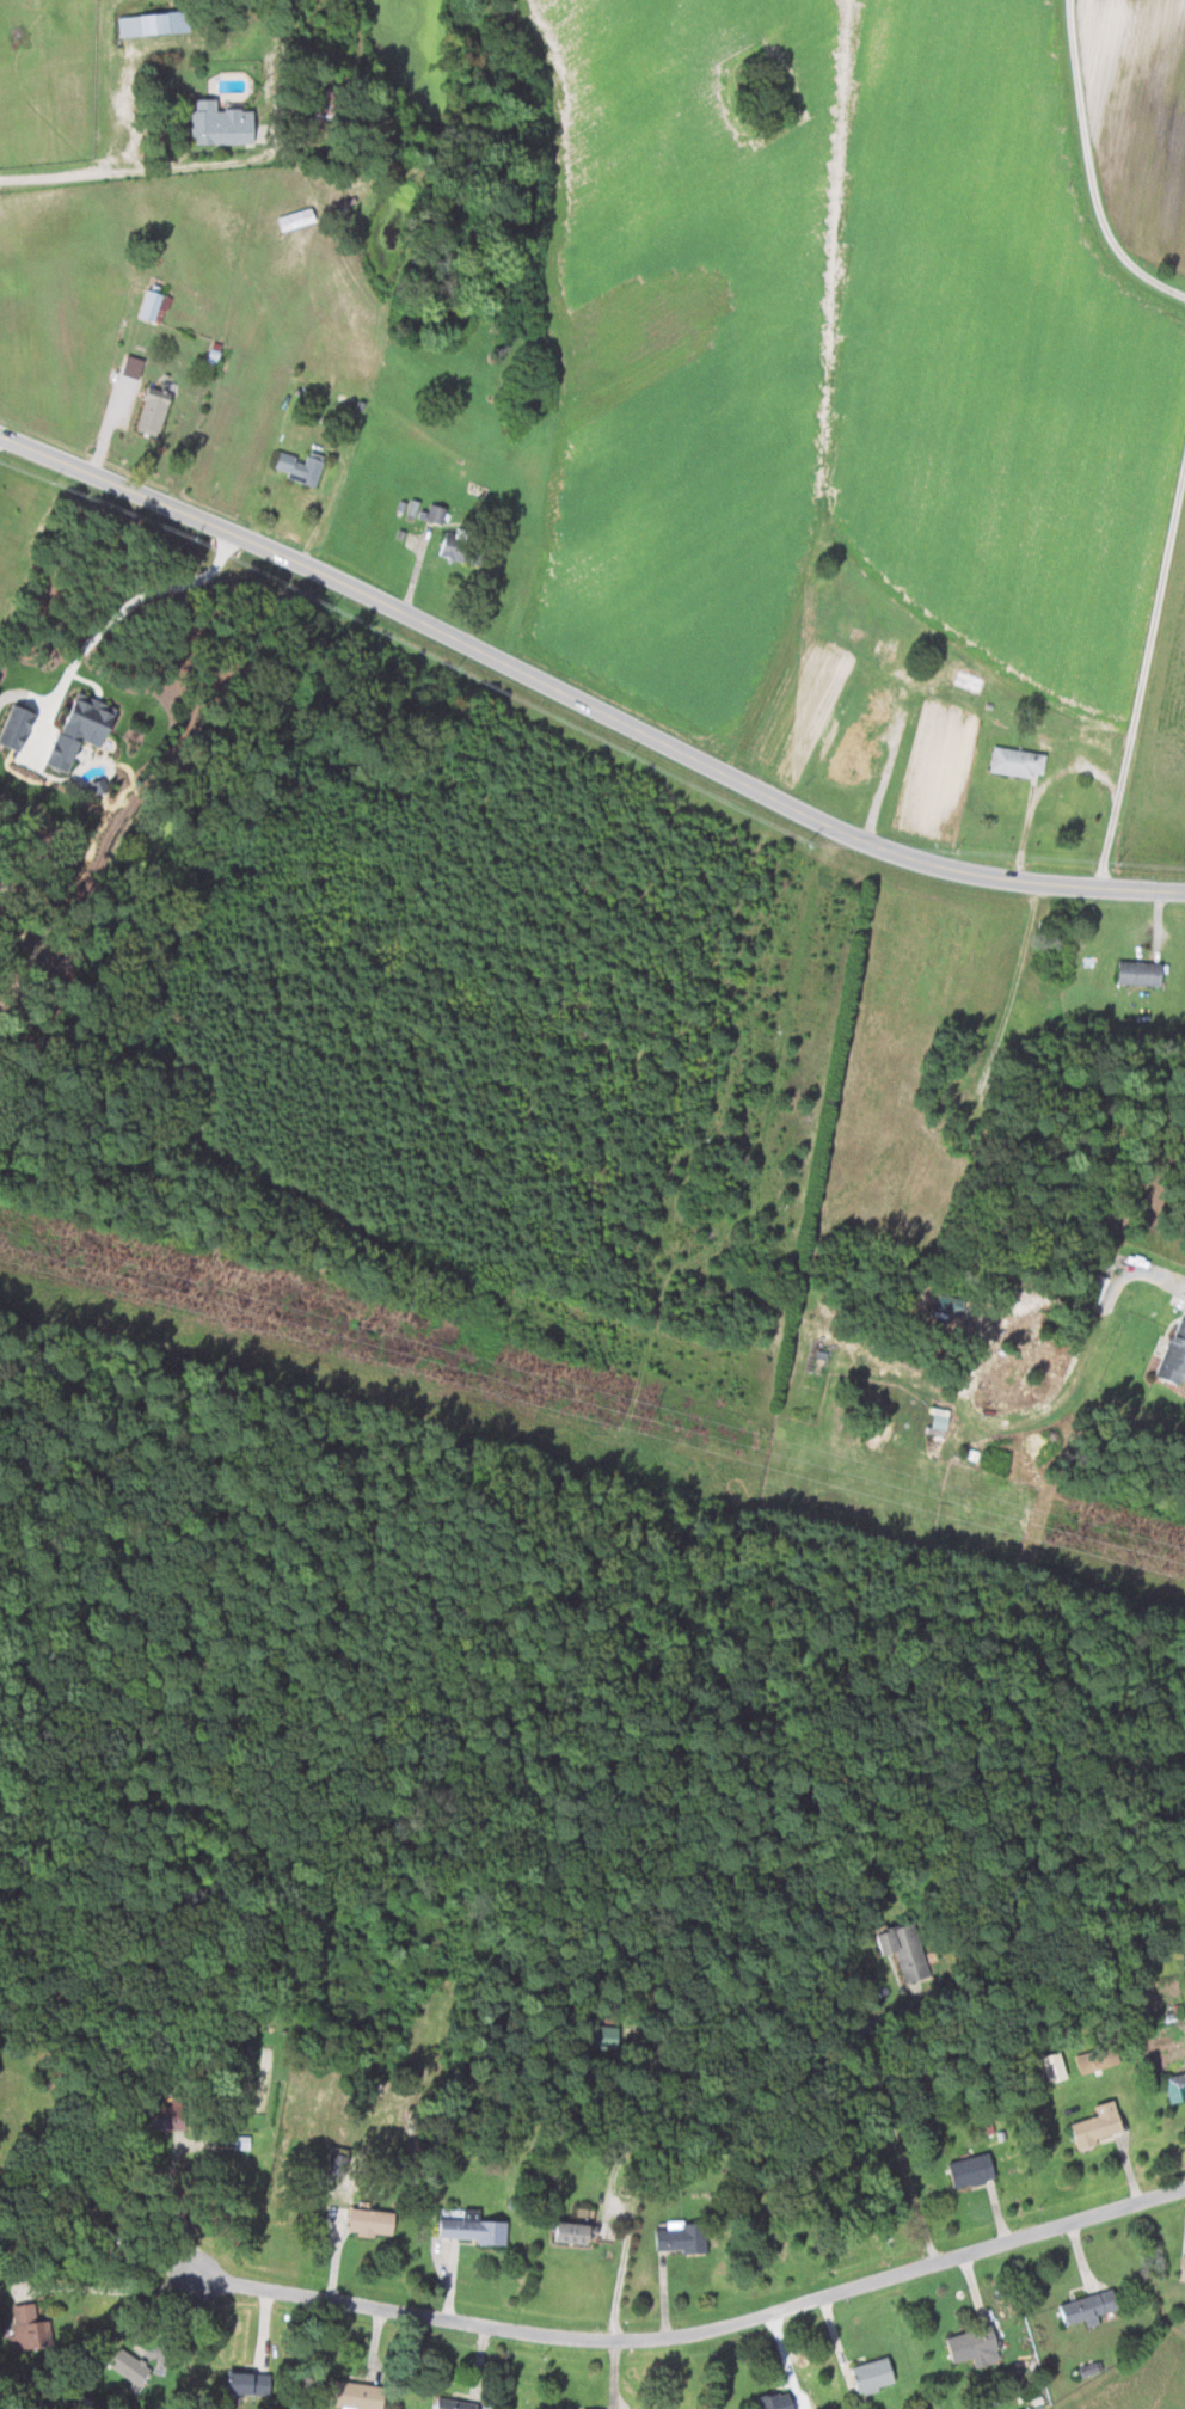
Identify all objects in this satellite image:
building: (153, 23)
road: (127, 116)
building: (220, 123)
road: (1091, 167)
road: (124, 171)
building: (296, 219)
building: (155, 304)
building: (133, 366)
building: (155, 409)
road: (110, 428)
building: (300, 466)
building: (435, 513)
building: (456, 546)
road: (110, 619)
building: (888, 646)
road: (1143, 679)
building: (966, 680)
road: (583, 697)
building: (16, 727)
building: (80, 728)
building: (849, 755)
building: (1018, 761)
road: (885, 778)
road: (1043, 787)
building: (1140, 971)
road: (1171, 1276)
power tower: (171, 1287)
building: (1099, 1288)
building: (1174, 1356)
power tower: (643, 1415)
building: (939, 1420)
power tower: (1163, 1557)
building: (904, 1948)
building: (603, 2036)
building: (1093, 2061)
building: (1055, 2066)
building: (1174, 2084)
building: (85, 2105)
building: (164, 2117)
road: (891, 2121)
building: (1099, 2125)
building: (242, 2141)
building: (971, 2170)
road: (612, 2183)
road: (180, 2211)
building: (370, 2221)
building: (469, 2226)
building: (576, 2232)
building: (681, 2237)
building: (1183, 2268)
road: (118, 2288)
building: (1087, 2306)
building: (31, 2327)
road: (702, 2329)
building: (975, 2344)
building: (130, 2366)
building: (1091, 2368)
building: (873, 2374)
building: (250, 2382)
building: (354, 2395)
building: (776, 2399)
building: (455, 2404)

